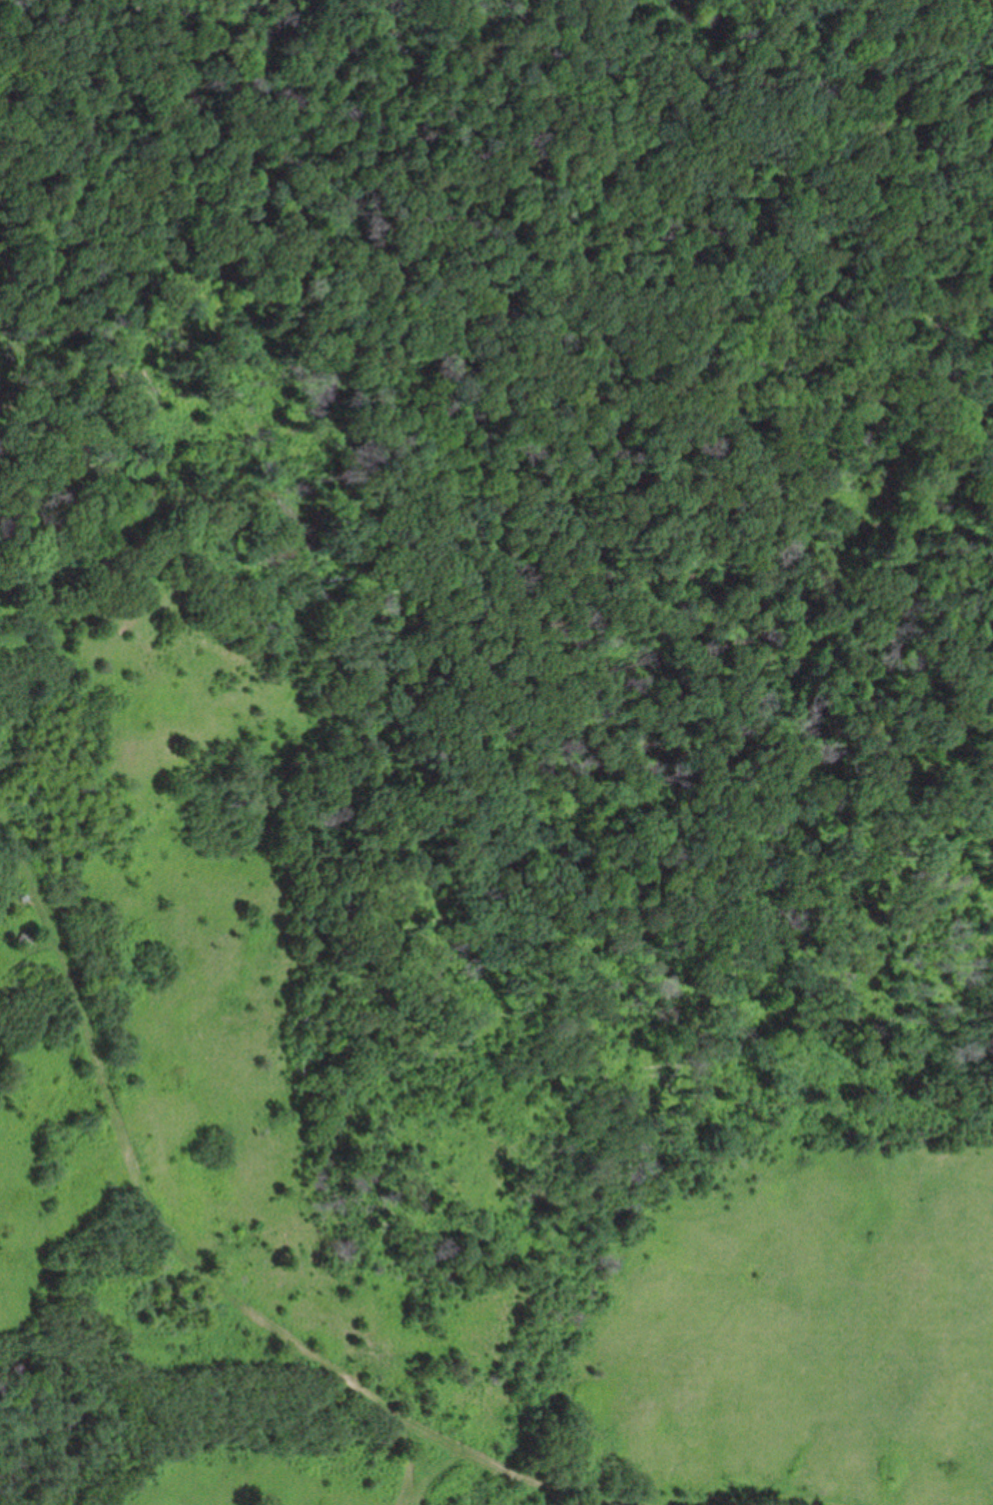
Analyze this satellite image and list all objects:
road: (165, 158)
park: (496, 752)
road: (183, 1253)
road: (416, 1458)
road: (437, 1474)
road: (782, 1502)

